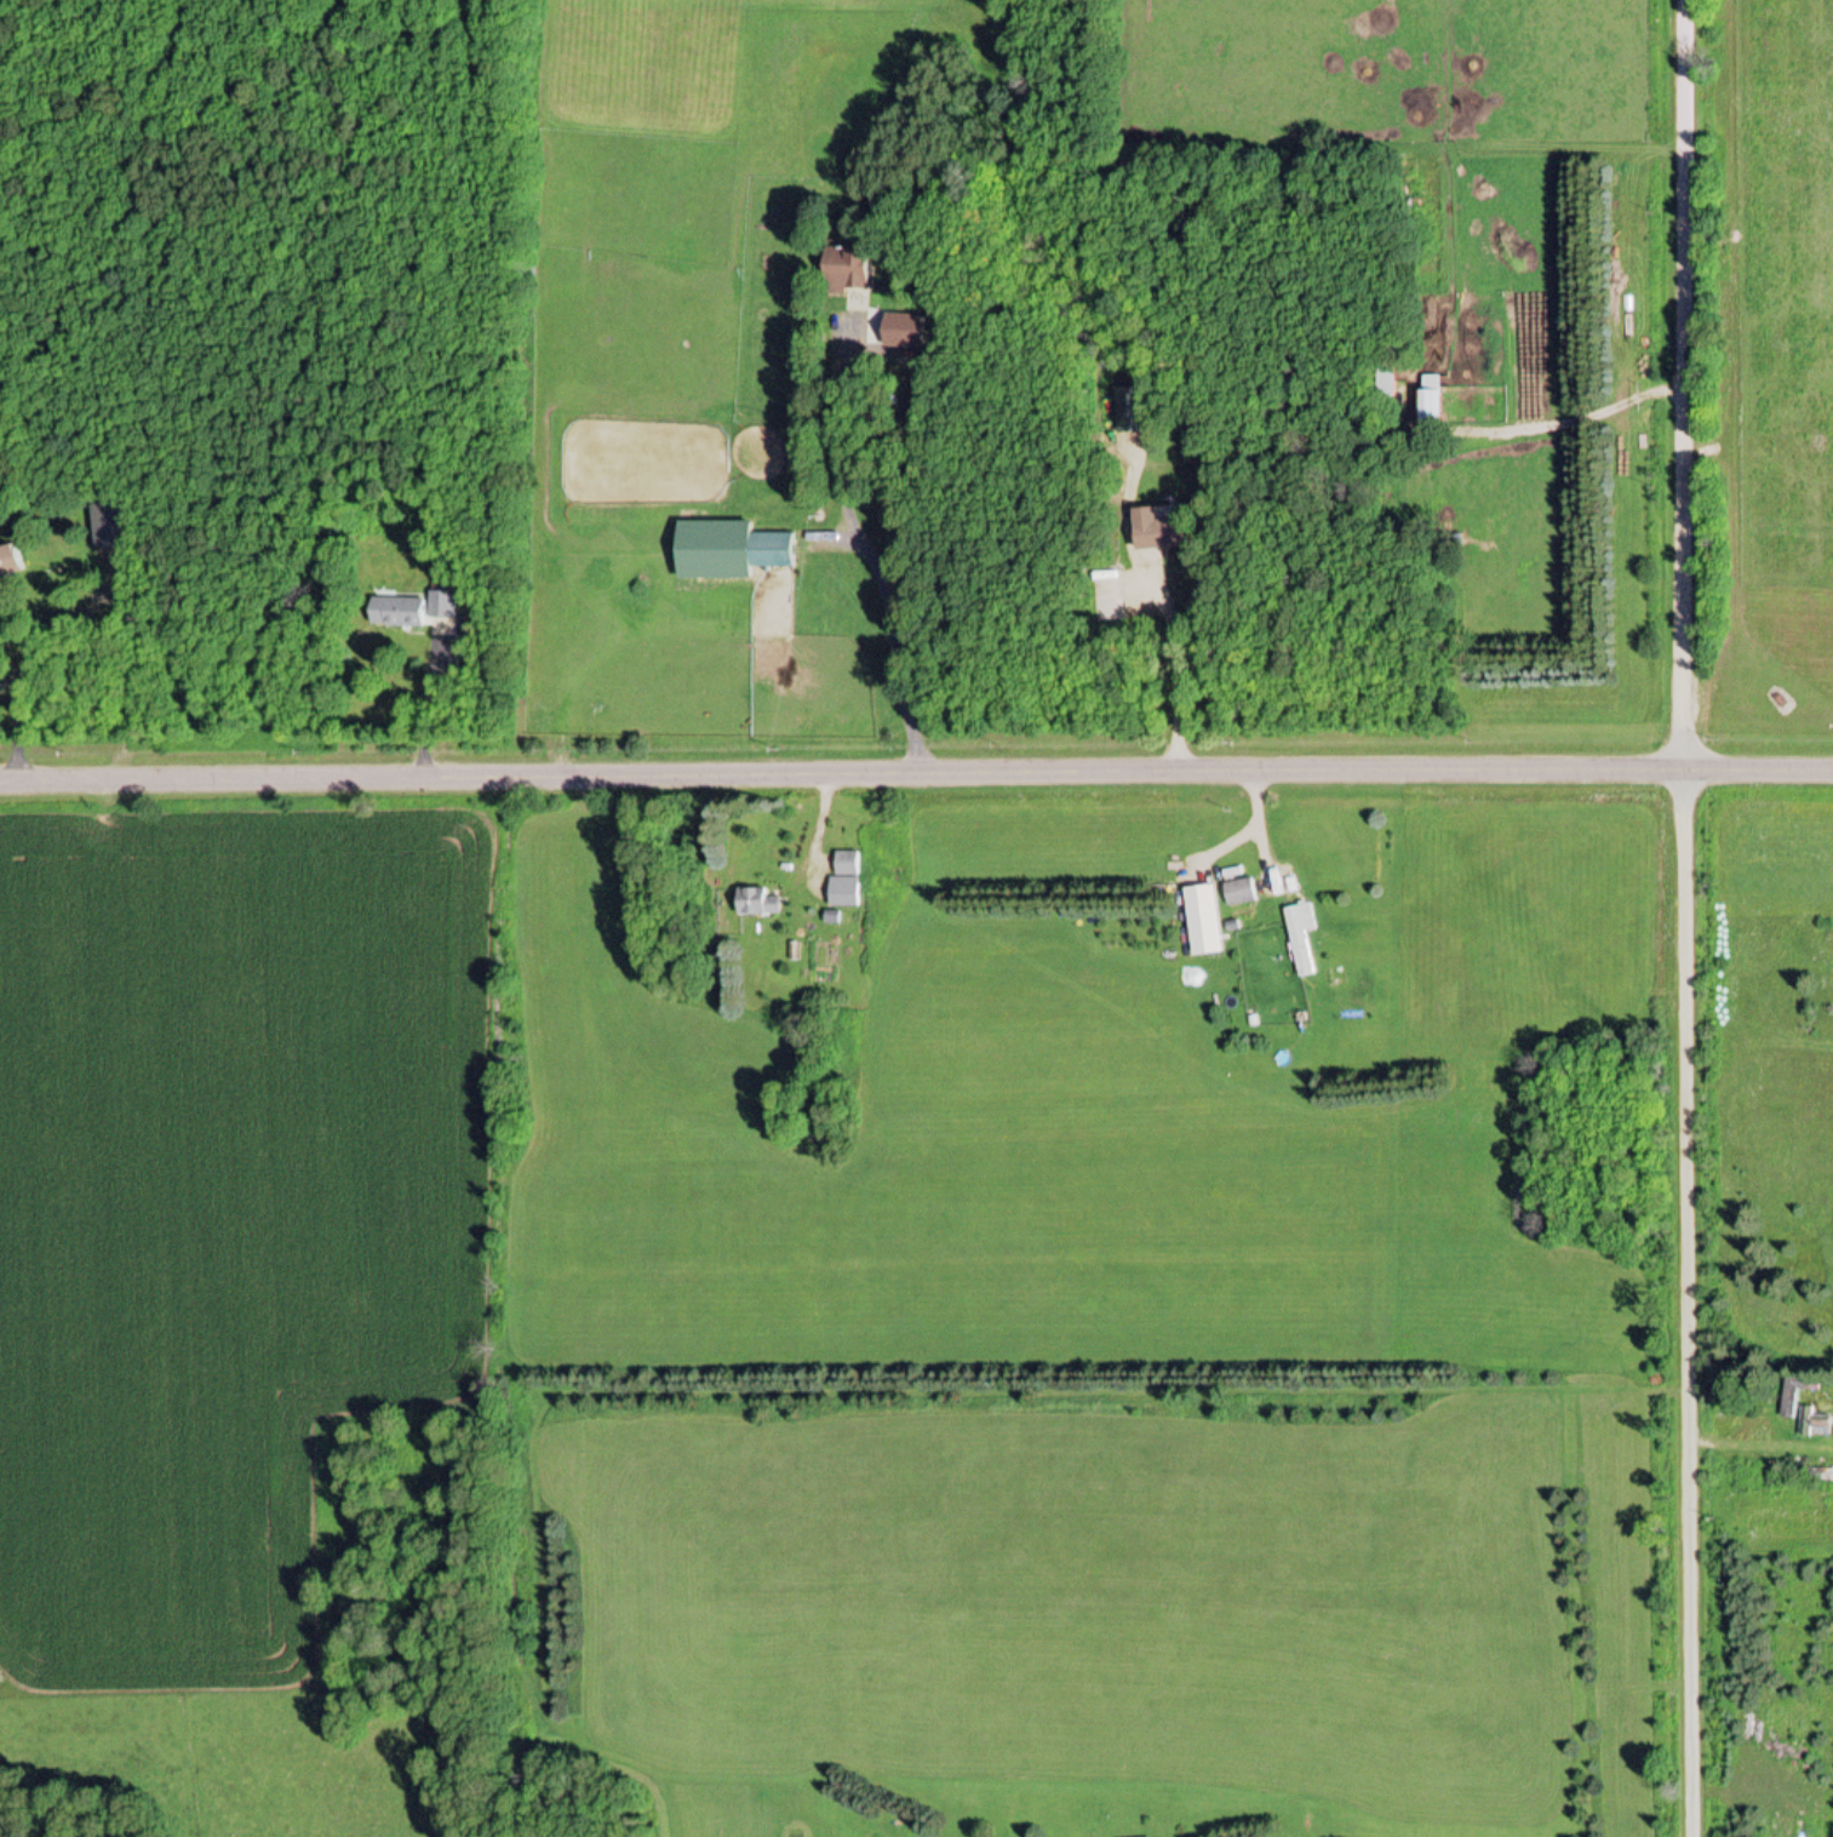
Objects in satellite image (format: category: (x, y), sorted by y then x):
building: (852, 268)
building: (1135, 412)
building: (1437, 412)
building: (107, 526)
building: (1169, 531)
building: (779, 553)
building: (12, 563)
building: (408, 612)
road: (916, 777)
building: (850, 865)
building: (1244, 894)
building: (762, 903)
road: (1691, 918)
building: (1305, 937)

